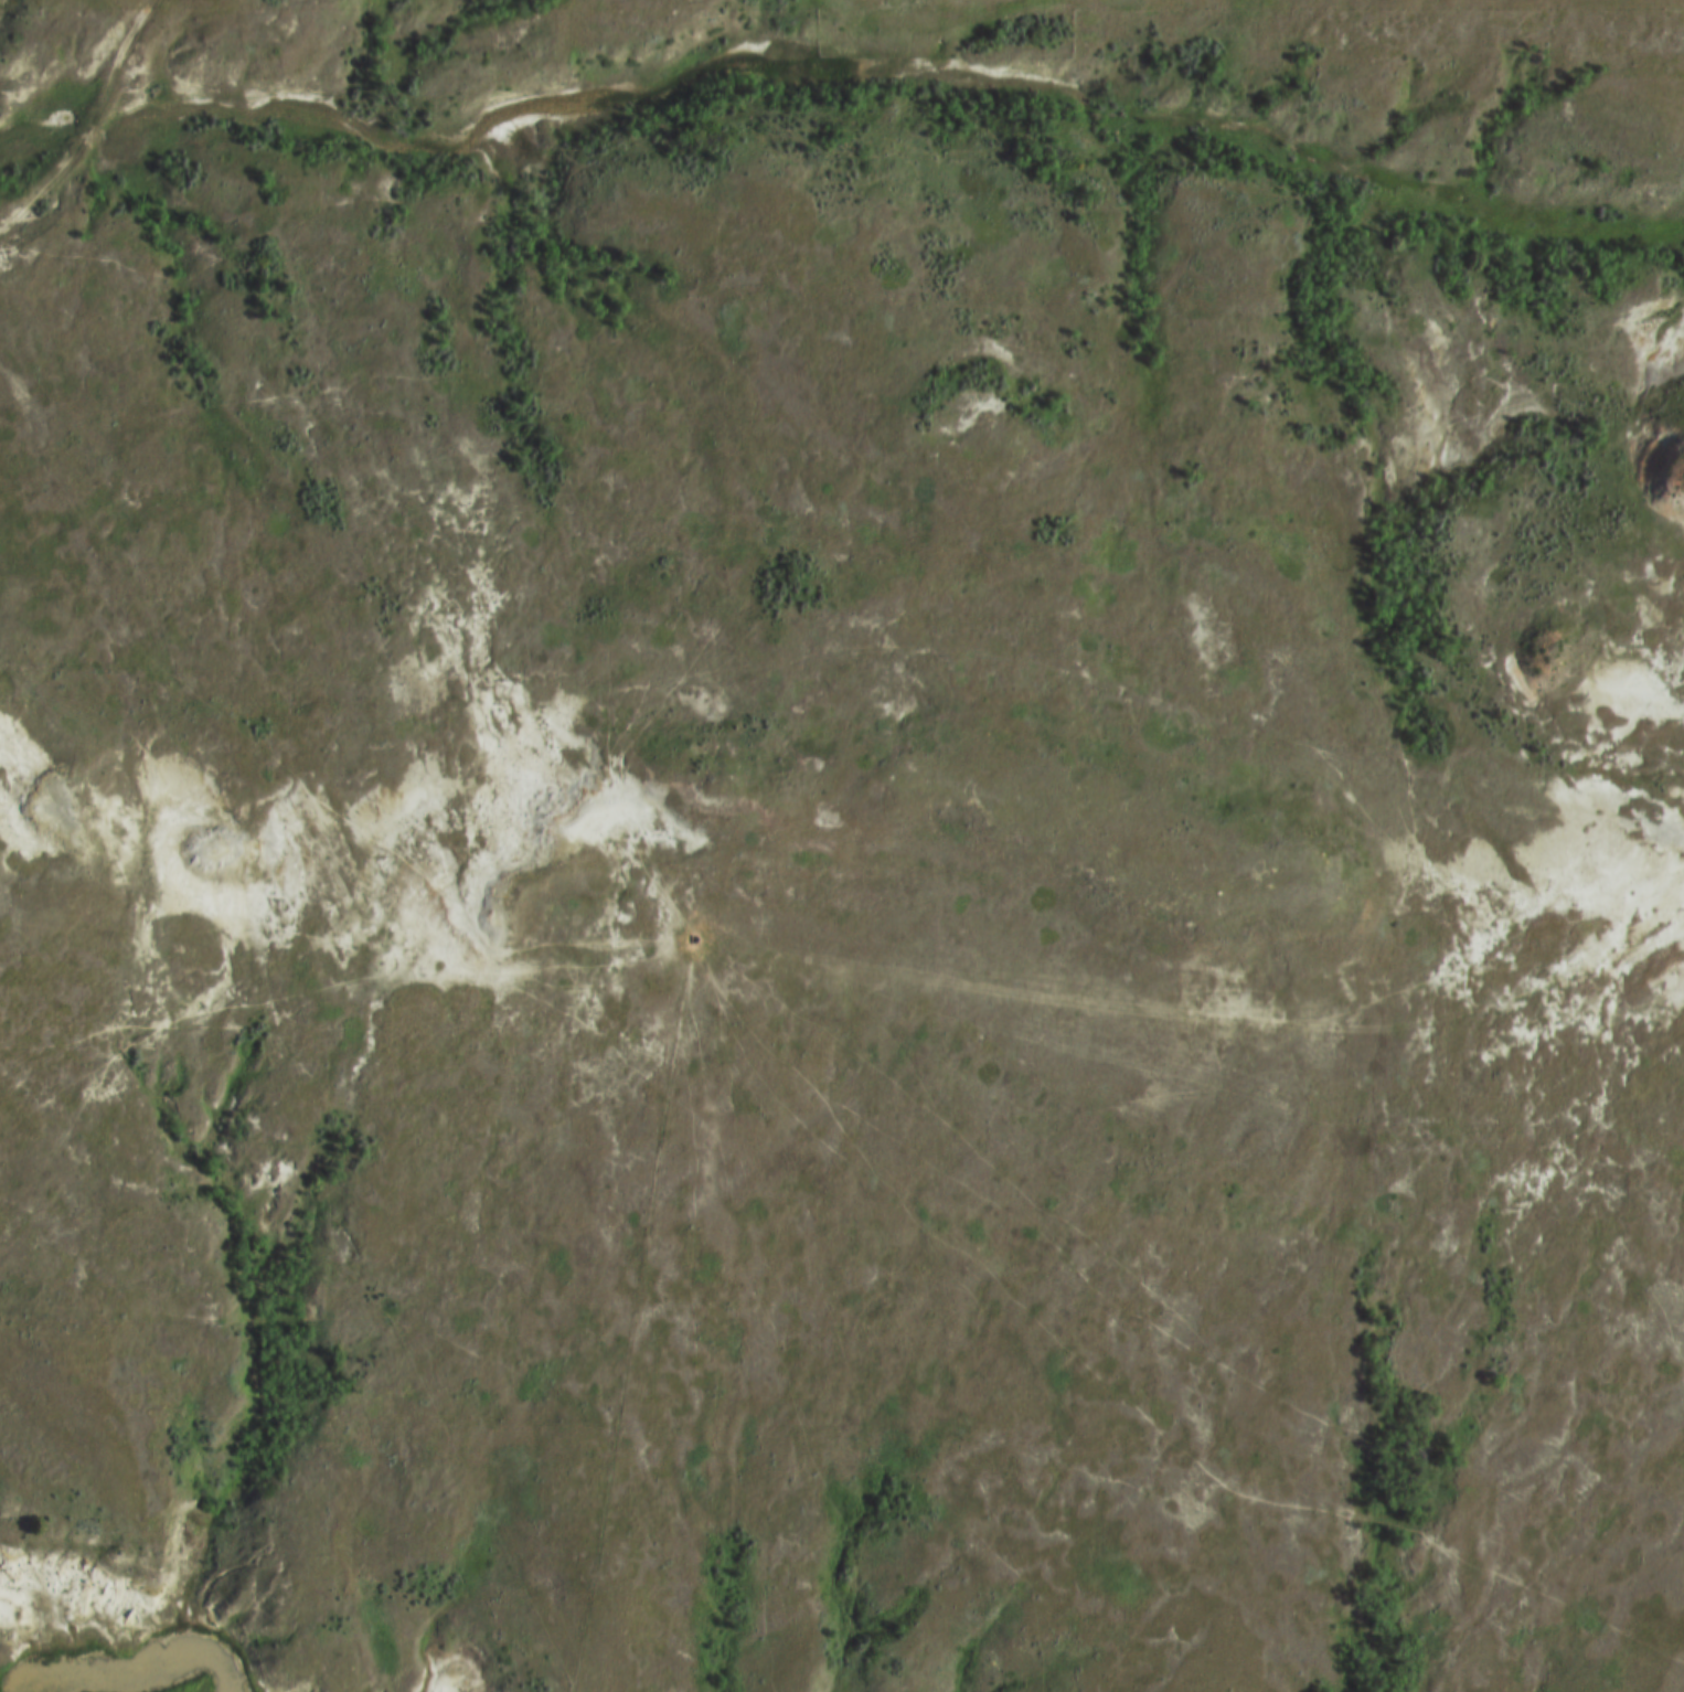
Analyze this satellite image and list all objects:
road: (88, 121)

